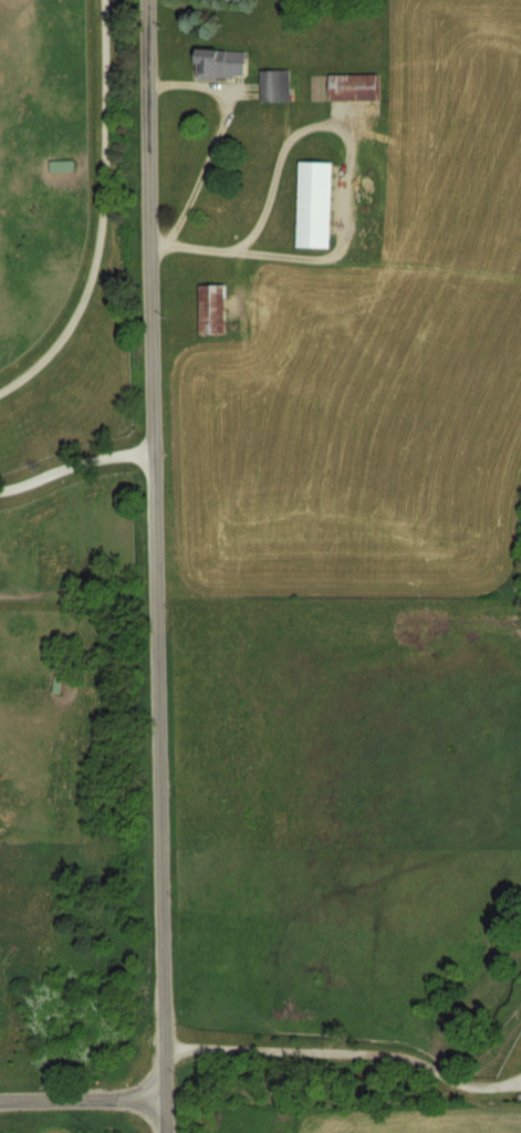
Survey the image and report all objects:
building: (220, 63)
building: (274, 84)
building: (354, 85)
road: (218, 139)
building: (62, 165)
building: (315, 204)
building: (212, 308)
road: (76, 462)
road: (158, 565)
building: (55, 683)
building: (0, 1011)
road: (351, 1049)
road: (82, 1099)

